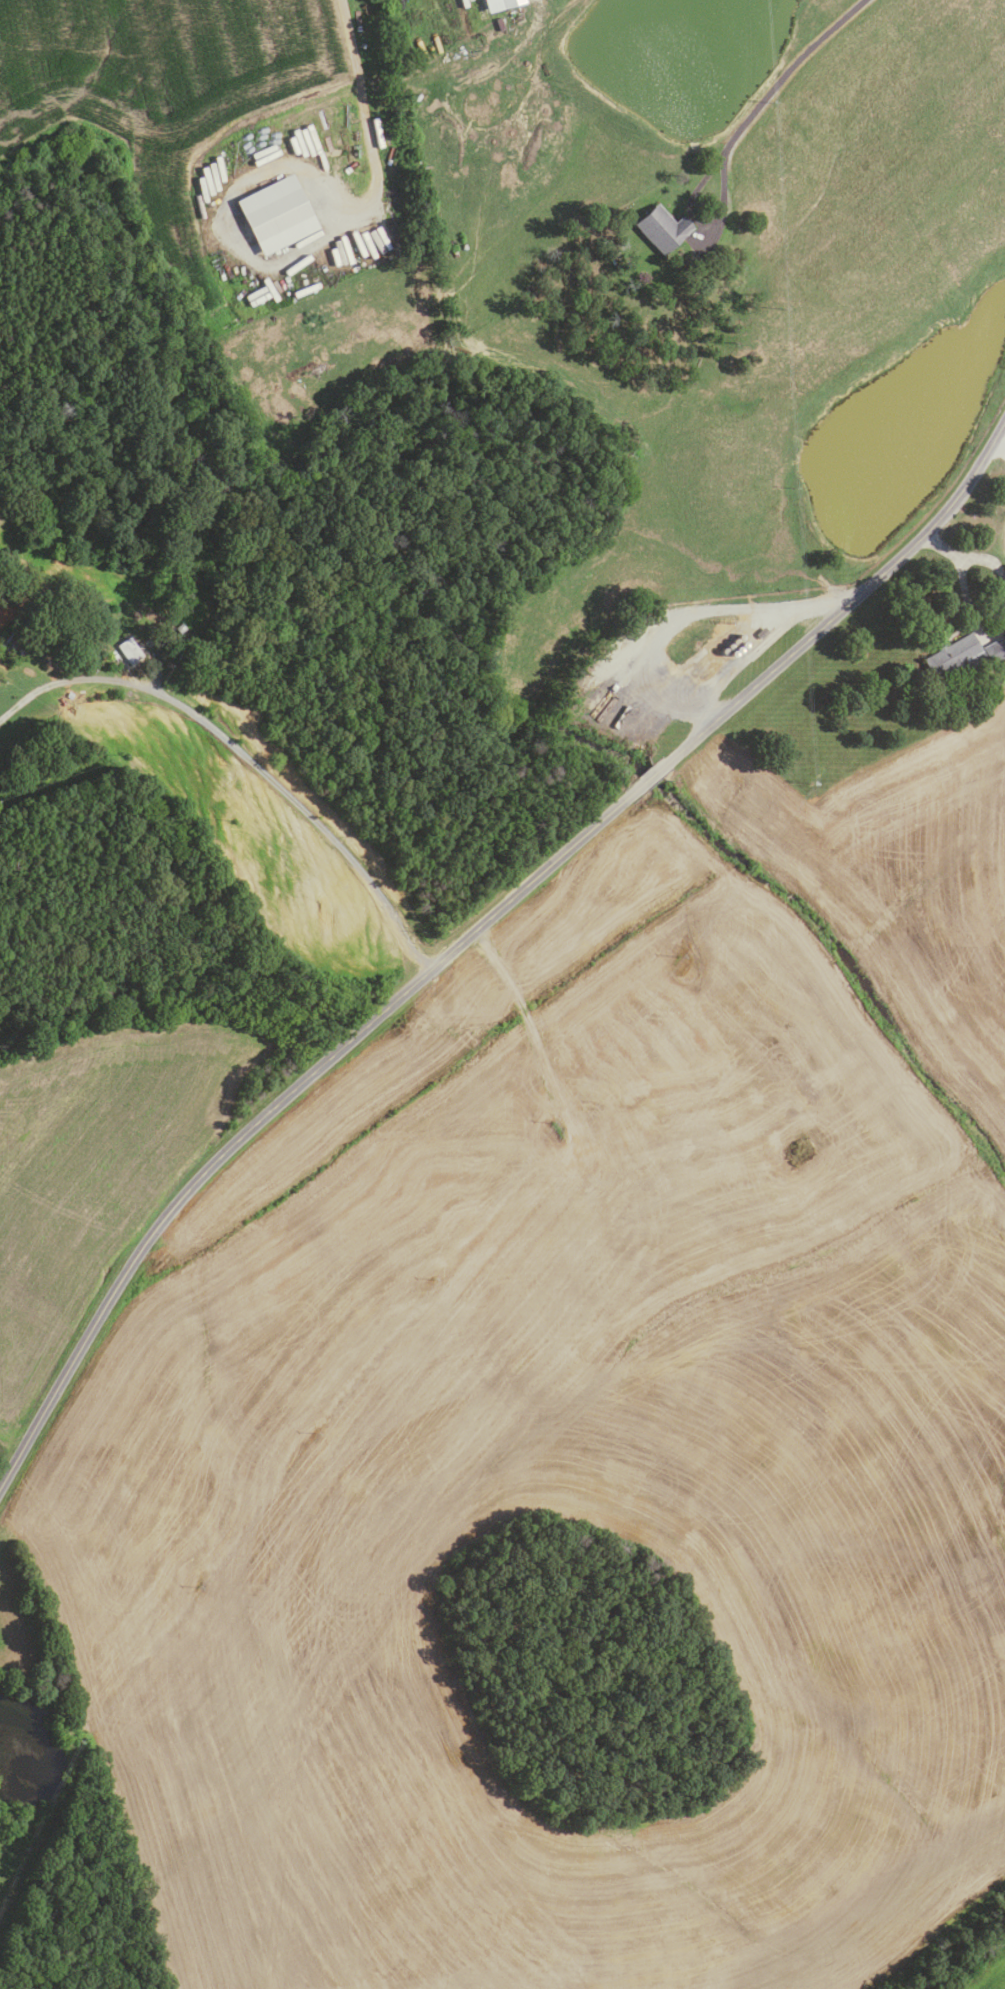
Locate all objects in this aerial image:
building: (498, 4)
building: (499, 24)
road: (785, 74)
building: (276, 212)
building: (661, 229)
building: (610, 255)
building: (688, 264)
building: (33, 531)
road: (942, 545)
road: (987, 560)
road: (844, 606)
road: (969, 609)
building: (180, 628)
building: (761, 633)
building: (188, 640)
building: (129, 651)
building: (963, 654)
building: (182, 657)
building: (69, 694)
road: (245, 758)
road: (649, 778)
road: (279, 1103)

